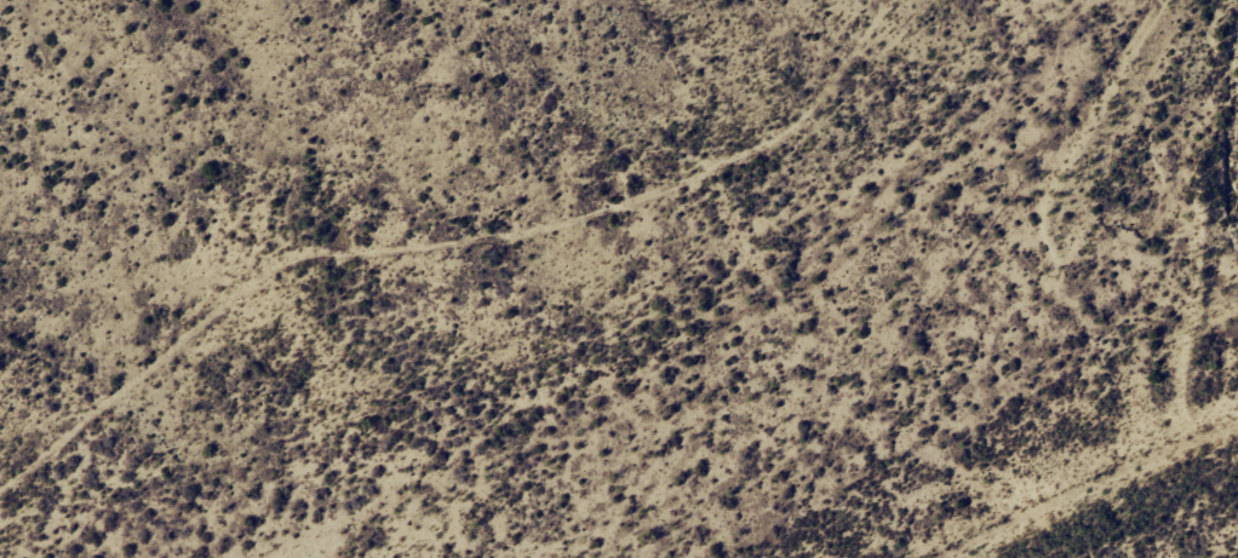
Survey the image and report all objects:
road: (454, 255)

